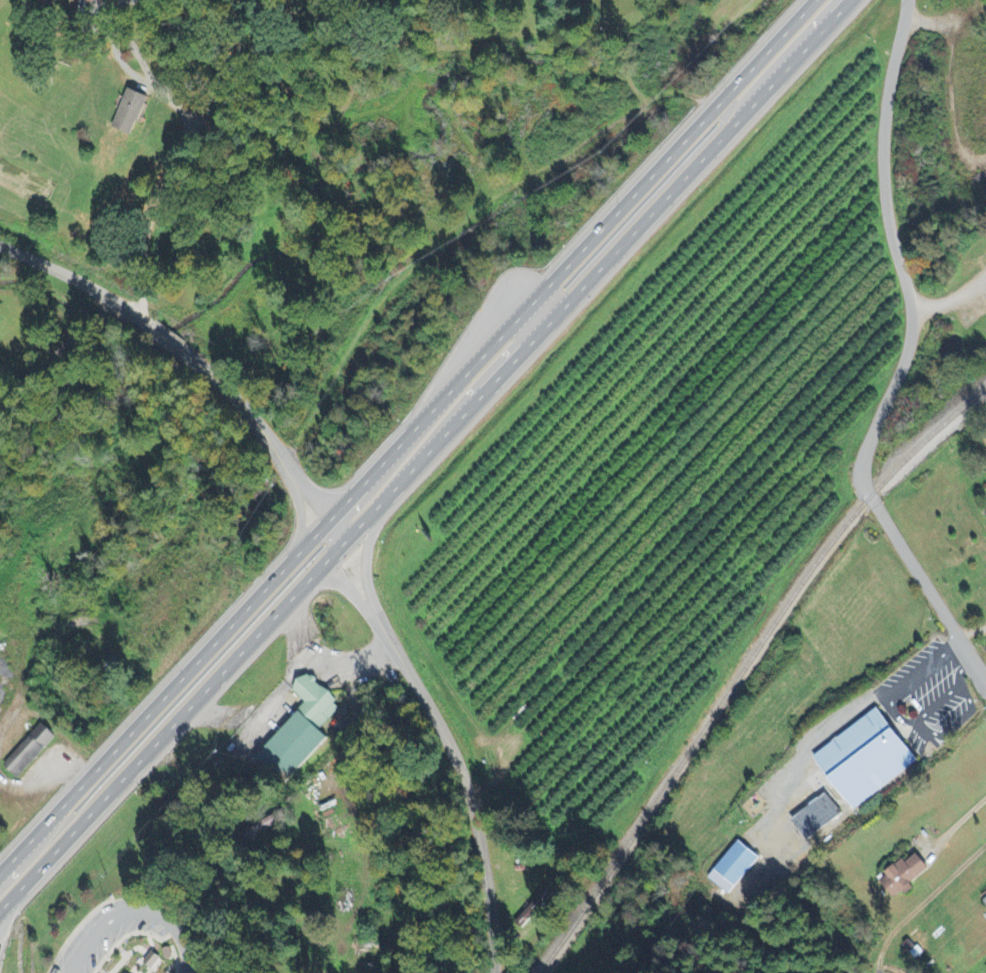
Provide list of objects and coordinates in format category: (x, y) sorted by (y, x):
road: (836, 7)
road: (838, 7)
road: (801, 11)
building: (132, 111)
road: (186, 134)
road: (595, 235)
road: (892, 253)
road: (585, 282)
road: (186, 352)
road: (500, 362)
road: (360, 484)
road: (365, 496)
road: (927, 589)
railway: (742, 663)
road: (162, 699)
building: (312, 700)
road: (168, 728)
building: (288, 746)
road: (446, 748)
building: (26, 749)
building: (868, 758)
road: (190, 781)
building: (818, 817)
building: (260, 824)
road: (957, 824)
building: (735, 868)
building: (906, 876)
building: (985, 900)
road: (922, 903)
road: (8, 909)
road: (135, 911)
parking lot: (99, 935)
building: (153, 961)
building: (124, 972)

